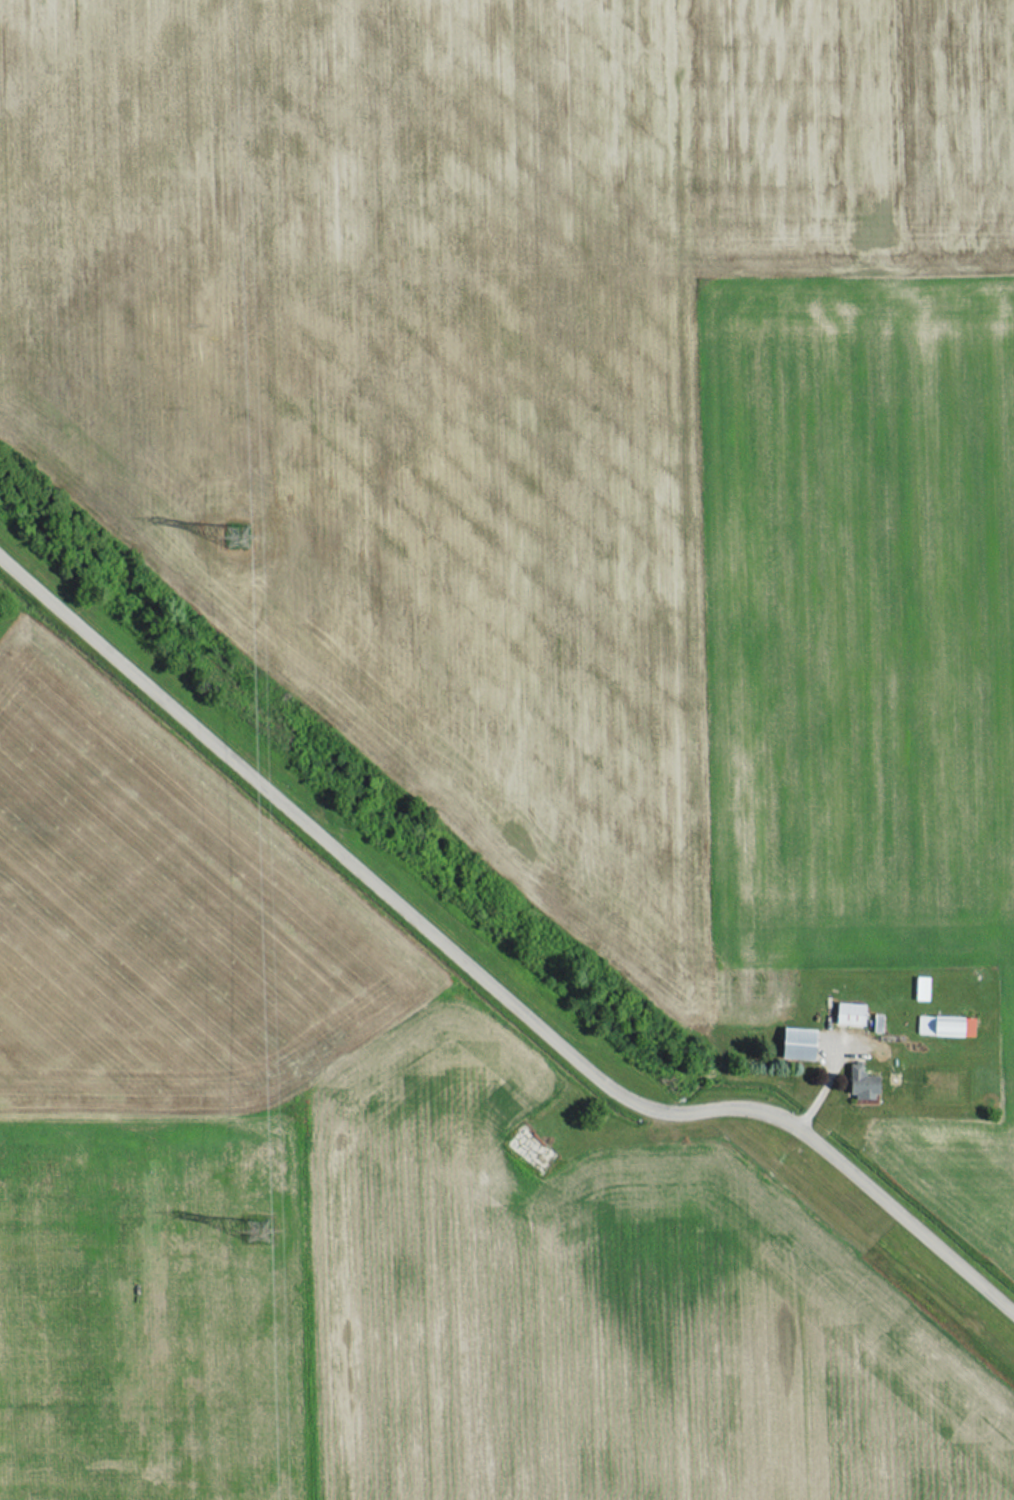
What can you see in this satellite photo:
crop: (464, 351)
power tower: (236, 535)
crop: (861, 653)
railway: (506, 941)
road: (486, 978)
building: (919, 989)
building: (847, 1014)
building: (943, 1026)
building: (796, 1044)
building: (860, 1083)
crop: (159, 1125)
power tower: (254, 1229)
crop: (616, 1315)

